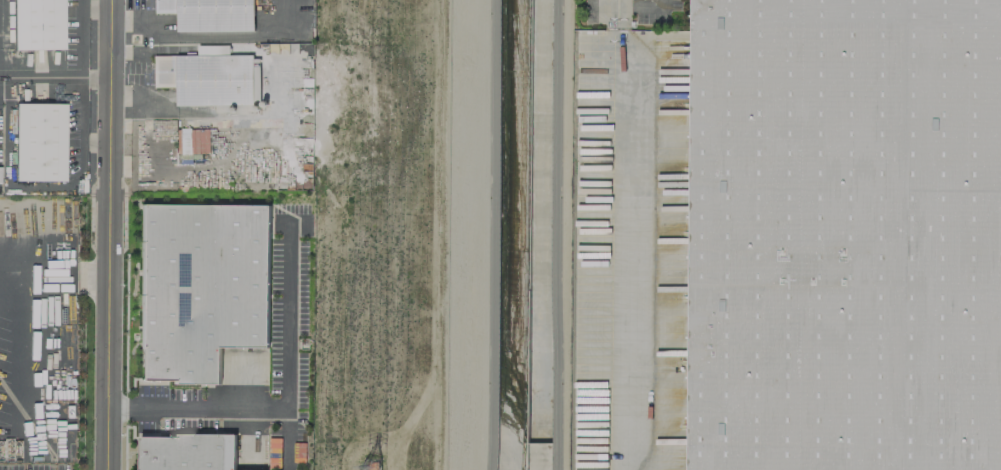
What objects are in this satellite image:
road: (643, 5)
building: (213, 15)
building: (41, 24)
road: (214, 35)
road: (2, 38)
road: (79, 38)
building: (211, 81)
road: (80, 89)
building: (43, 143)
road: (112, 234)
road: (622, 235)
building: (844, 235)
road: (55, 275)
building: (204, 291)
road: (284, 397)
road: (285, 435)
building: (190, 456)

